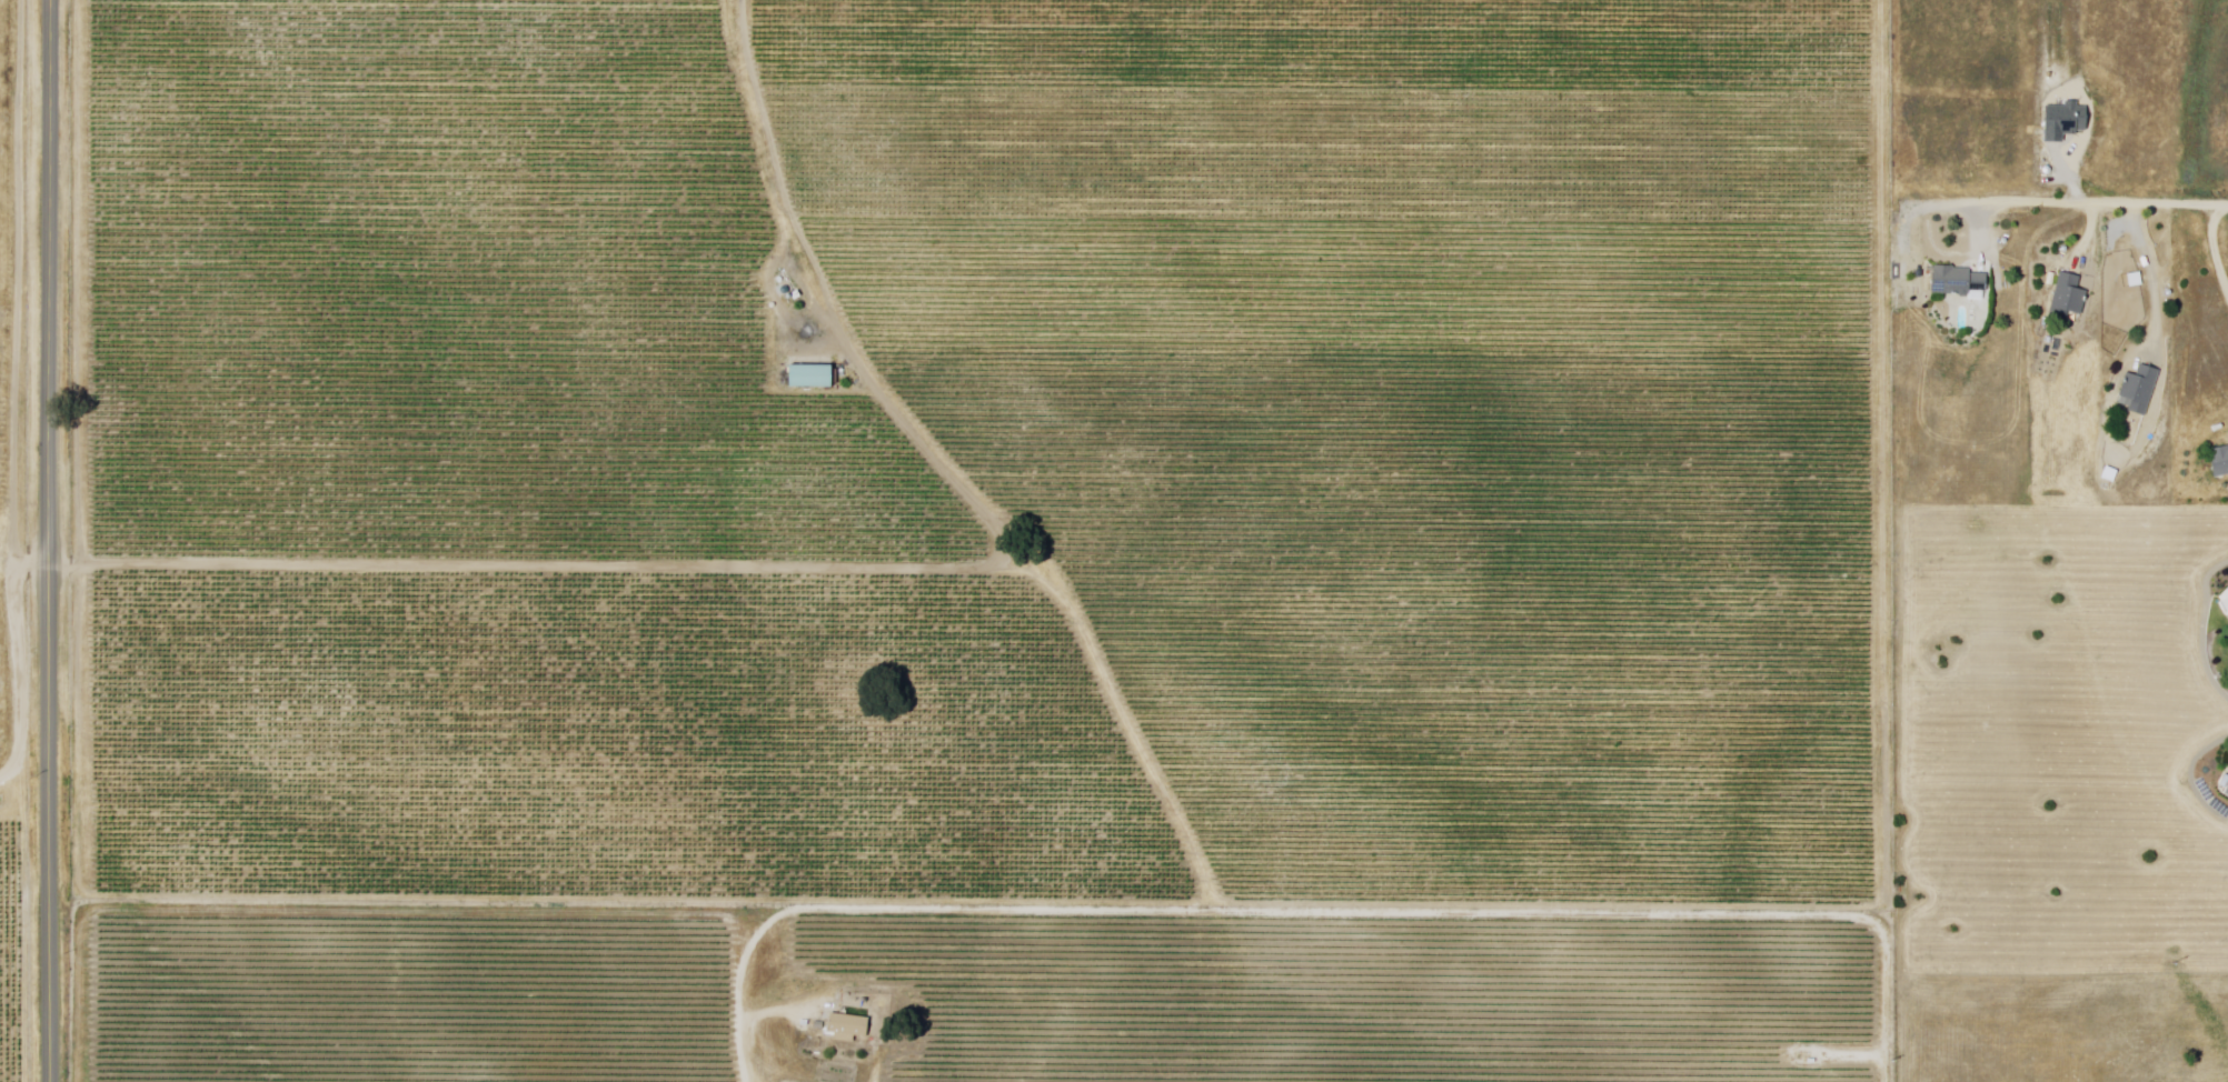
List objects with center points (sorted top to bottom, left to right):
building: (2062, 122)
road: (2080, 206)
road: (2092, 236)
road: (2215, 251)
building: (1956, 281)
road: (2154, 281)
building: (2068, 298)
building: (809, 377)
building: (2139, 390)
building: (2219, 462)
road: (54, 540)
building: (846, 1026)

